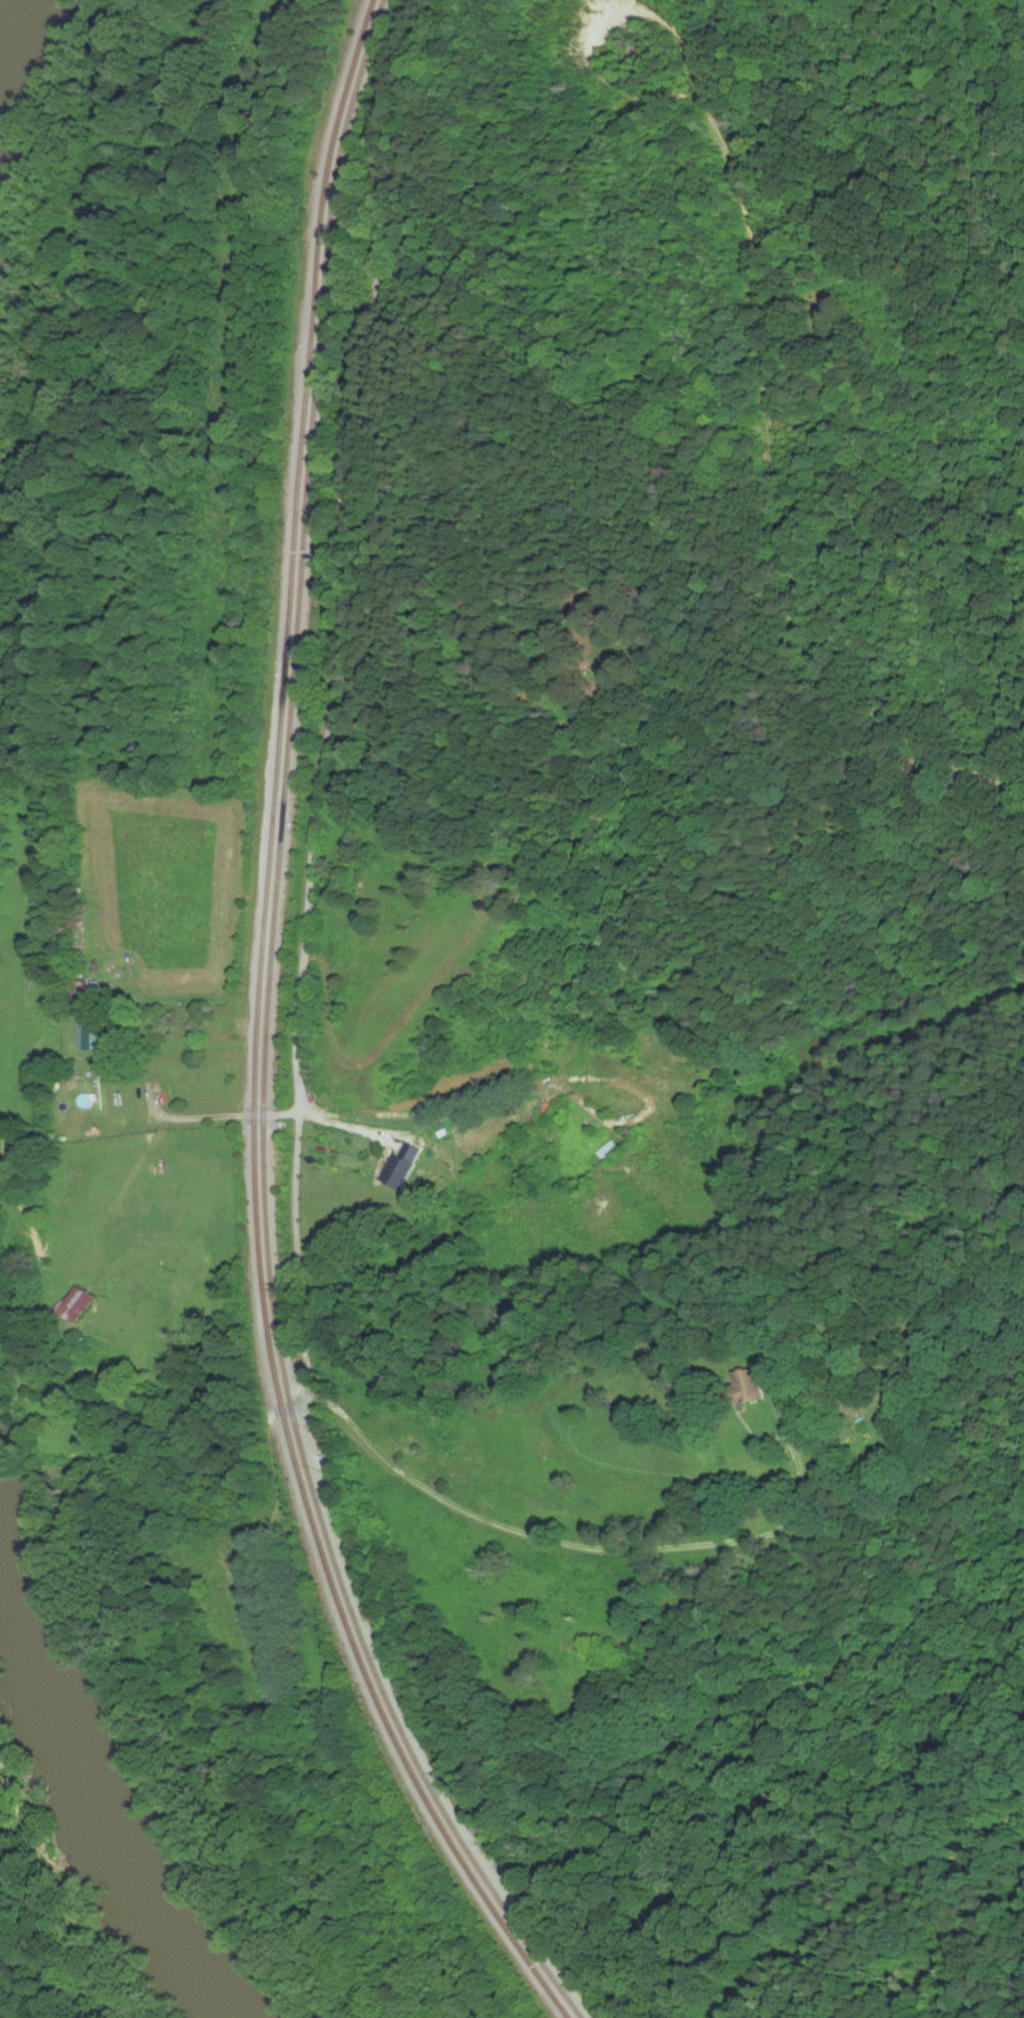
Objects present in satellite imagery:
road: (747, 463)
road: (351, 551)
building: (96, 1037)
railway: (267, 1040)
road: (232, 1116)
building: (612, 1151)
building: (397, 1172)
building: (83, 1305)
building: (749, 1386)
road: (786, 1445)
road: (420, 1483)
river: (118, 1829)

